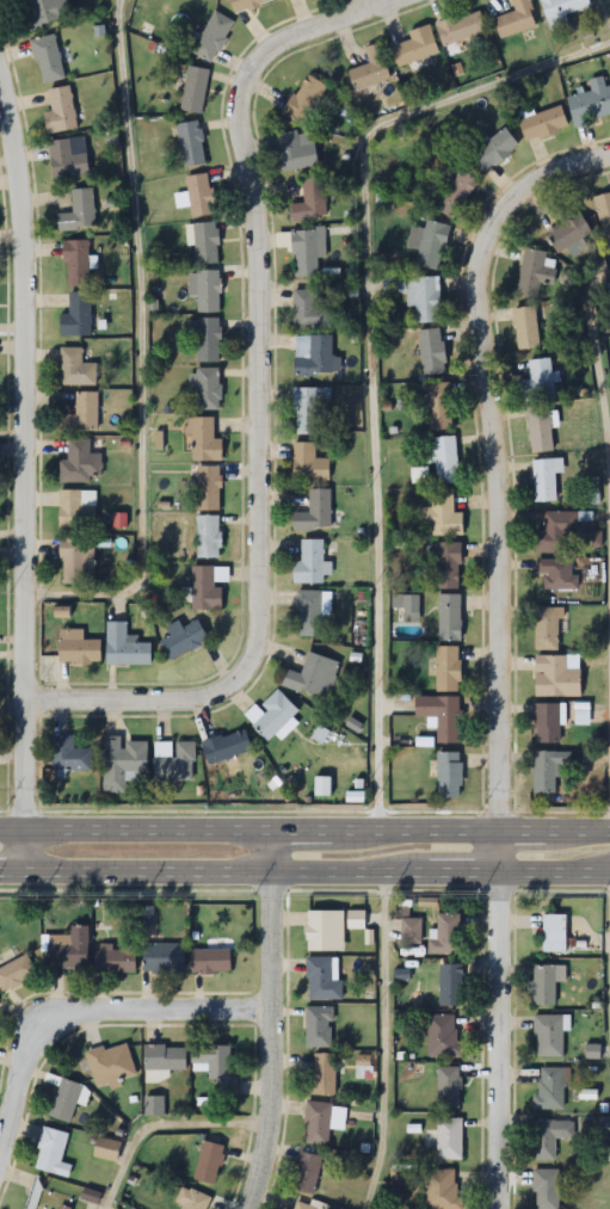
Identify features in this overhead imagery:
building: (248, 4)
building: (562, 7)
building: (45, 12)
building: (516, 19)
building: (461, 29)
building: (212, 37)
building: (415, 48)
building: (48, 60)
building: (371, 68)
building: (193, 90)
building: (304, 99)
building: (591, 103)
building: (60, 111)
building: (542, 124)
building: (191, 143)
building: (492, 149)
building: (296, 150)
building: (68, 158)
building: (199, 195)
building: (456, 195)
building: (310, 202)
building: (79, 211)
building: (604, 216)
building: (569, 234)
building: (205, 243)
building: (429, 245)
building: (308, 252)
building: (75, 264)
building: (534, 273)
building: (205, 290)
building: (417, 295)
building: (310, 309)
building: (76, 316)
building: (526, 328)
building: (205, 339)
road: (142, 348)
building: (431, 352)
road: (597, 352)
road: (372, 353)
building: (313, 354)
building: (75, 369)
building: (541, 382)
building: (205, 389)
road: (254, 400)
building: (439, 407)
building: (309, 411)
building: (81, 414)
building: (540, 430)
building: (203, 440)
road: (489, 458)
building: (443, 459)
building: (80, 463)
building: (308, 464)
road: (26, 467)
building: (544, 480)
building: (207, 488)
building: (76, 510)
building: (315, 512)
building: (440, 517)
building: (556, 535)
building: (208, 537)
building: (76, 561)
building: (310, 565)
building: (448, 566)
building: (556, 575)
building: (207, 588)
building: (310, 615)
building: (449, 618)
building: (547, 629)
building: (183, 639)
building: (124, 647)
building: (76, 648)
building: (448, 670)
building: (313, 677)
building: (556, 677)
building: (275, 716)
building: (440, 716)
building: (547, 723)
building: (166, 746)
building: (226, 747)
building: (69, 755)
building: (123, 763)
building: (548, 770)
building: (449, 776)
road: (304, 832)
road: (304, 874)
building: (356, 920)
building: (411, 930)
building: (325, 931)
building: (554, 933)
building: (445, 936)
building: (66, 950)
building: (162, 958)
building: (113, 961)
building: (209, 962)
building: (16, 973)
building: (322, 981)
building: (547, 982)
building: (451, 985)
road: (91, 1006)
road: (269, 1020)
road: (500, 1020)
building: (319, 1028)
building: (443, 1036)
building: (549, 1036)
road: (387, 1042)
building: (164, 1059)
building: (111, 1066)
building: (215, 1067)
building: (322, 1075)
building: (448, 1088)
building: (550, 1088)
building: (64, 1100)
building: (322, 1123)
road: (164, 1128)
building: (549, 1137)
building: (449, 1140)
building: (106, 1149)
building: (51, 1153)
building: (208, 1162)
building: (307, 1173)
building: (442, 1189)
building: (546, 1189)
building: (44, 1198)
building: (192, 1199)
building: (309, 1205)

